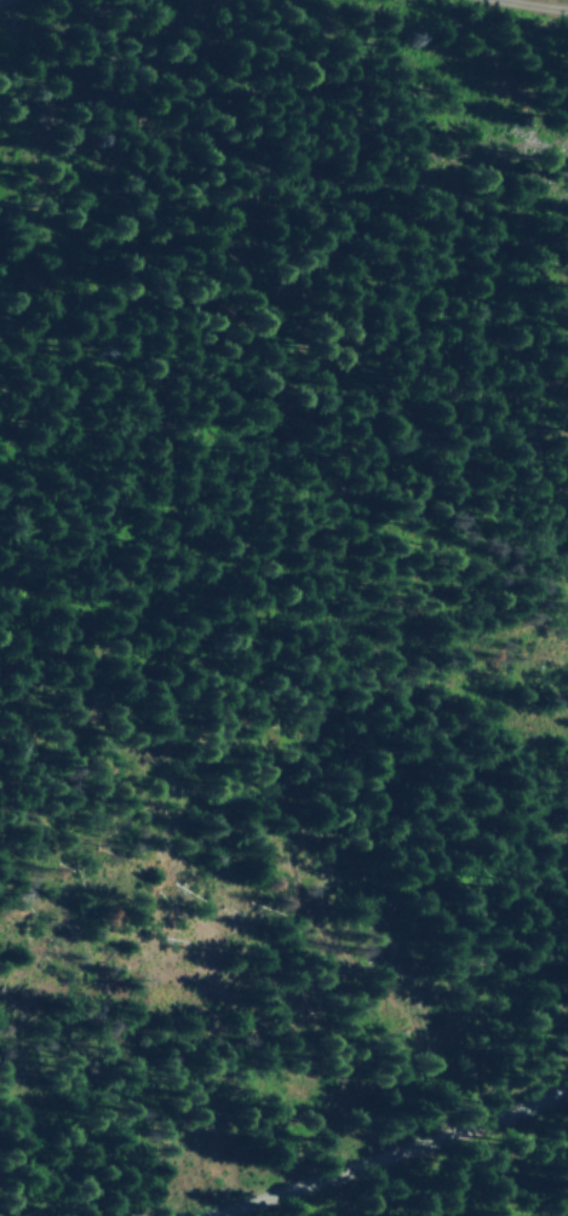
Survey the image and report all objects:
road: (7, 2)
road: (530, 4)
road: (386, 1152)

